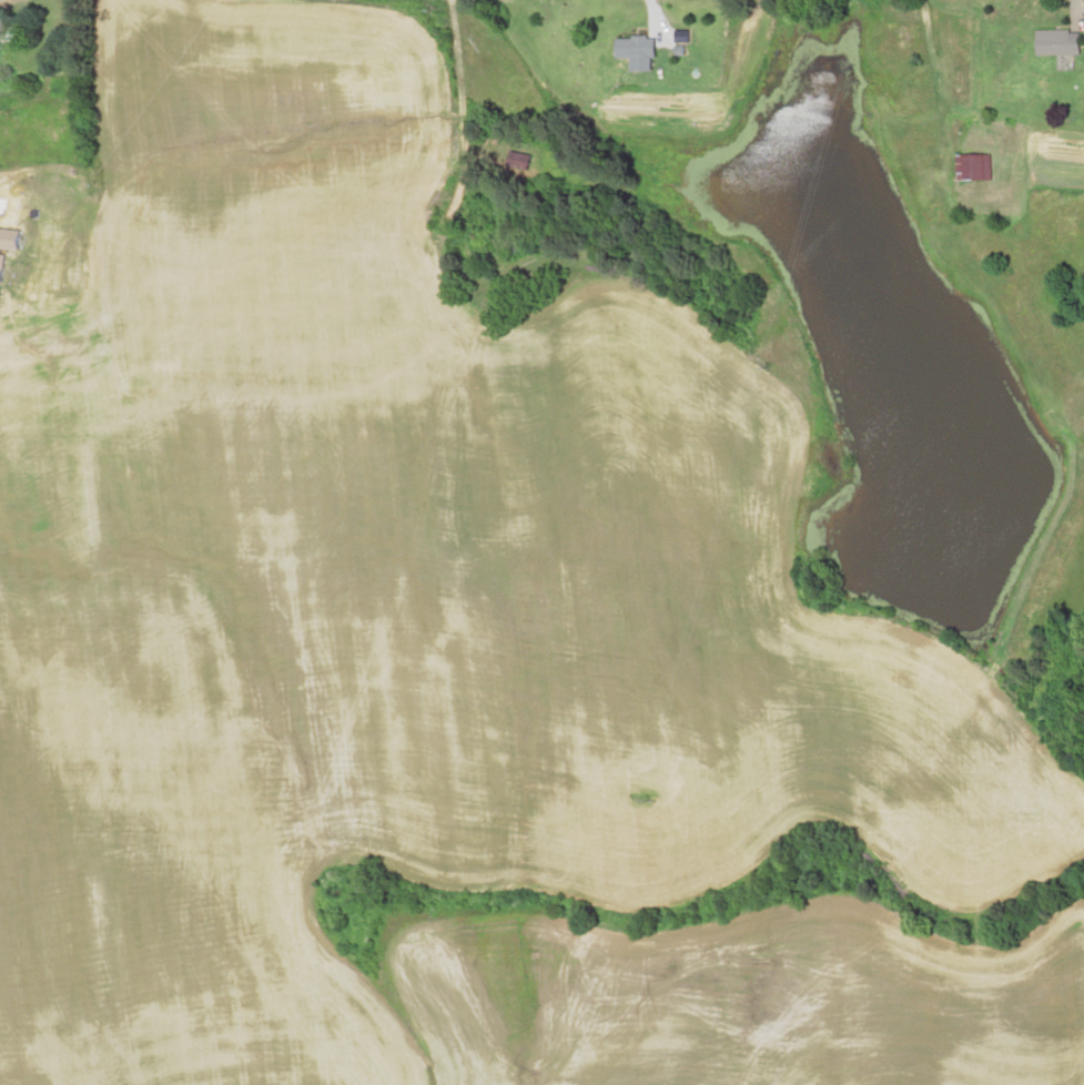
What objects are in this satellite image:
road: (416, 8)
building: (1064, 42)
building: (646, 52)
building: (4, 54)
building: (979, 168)

